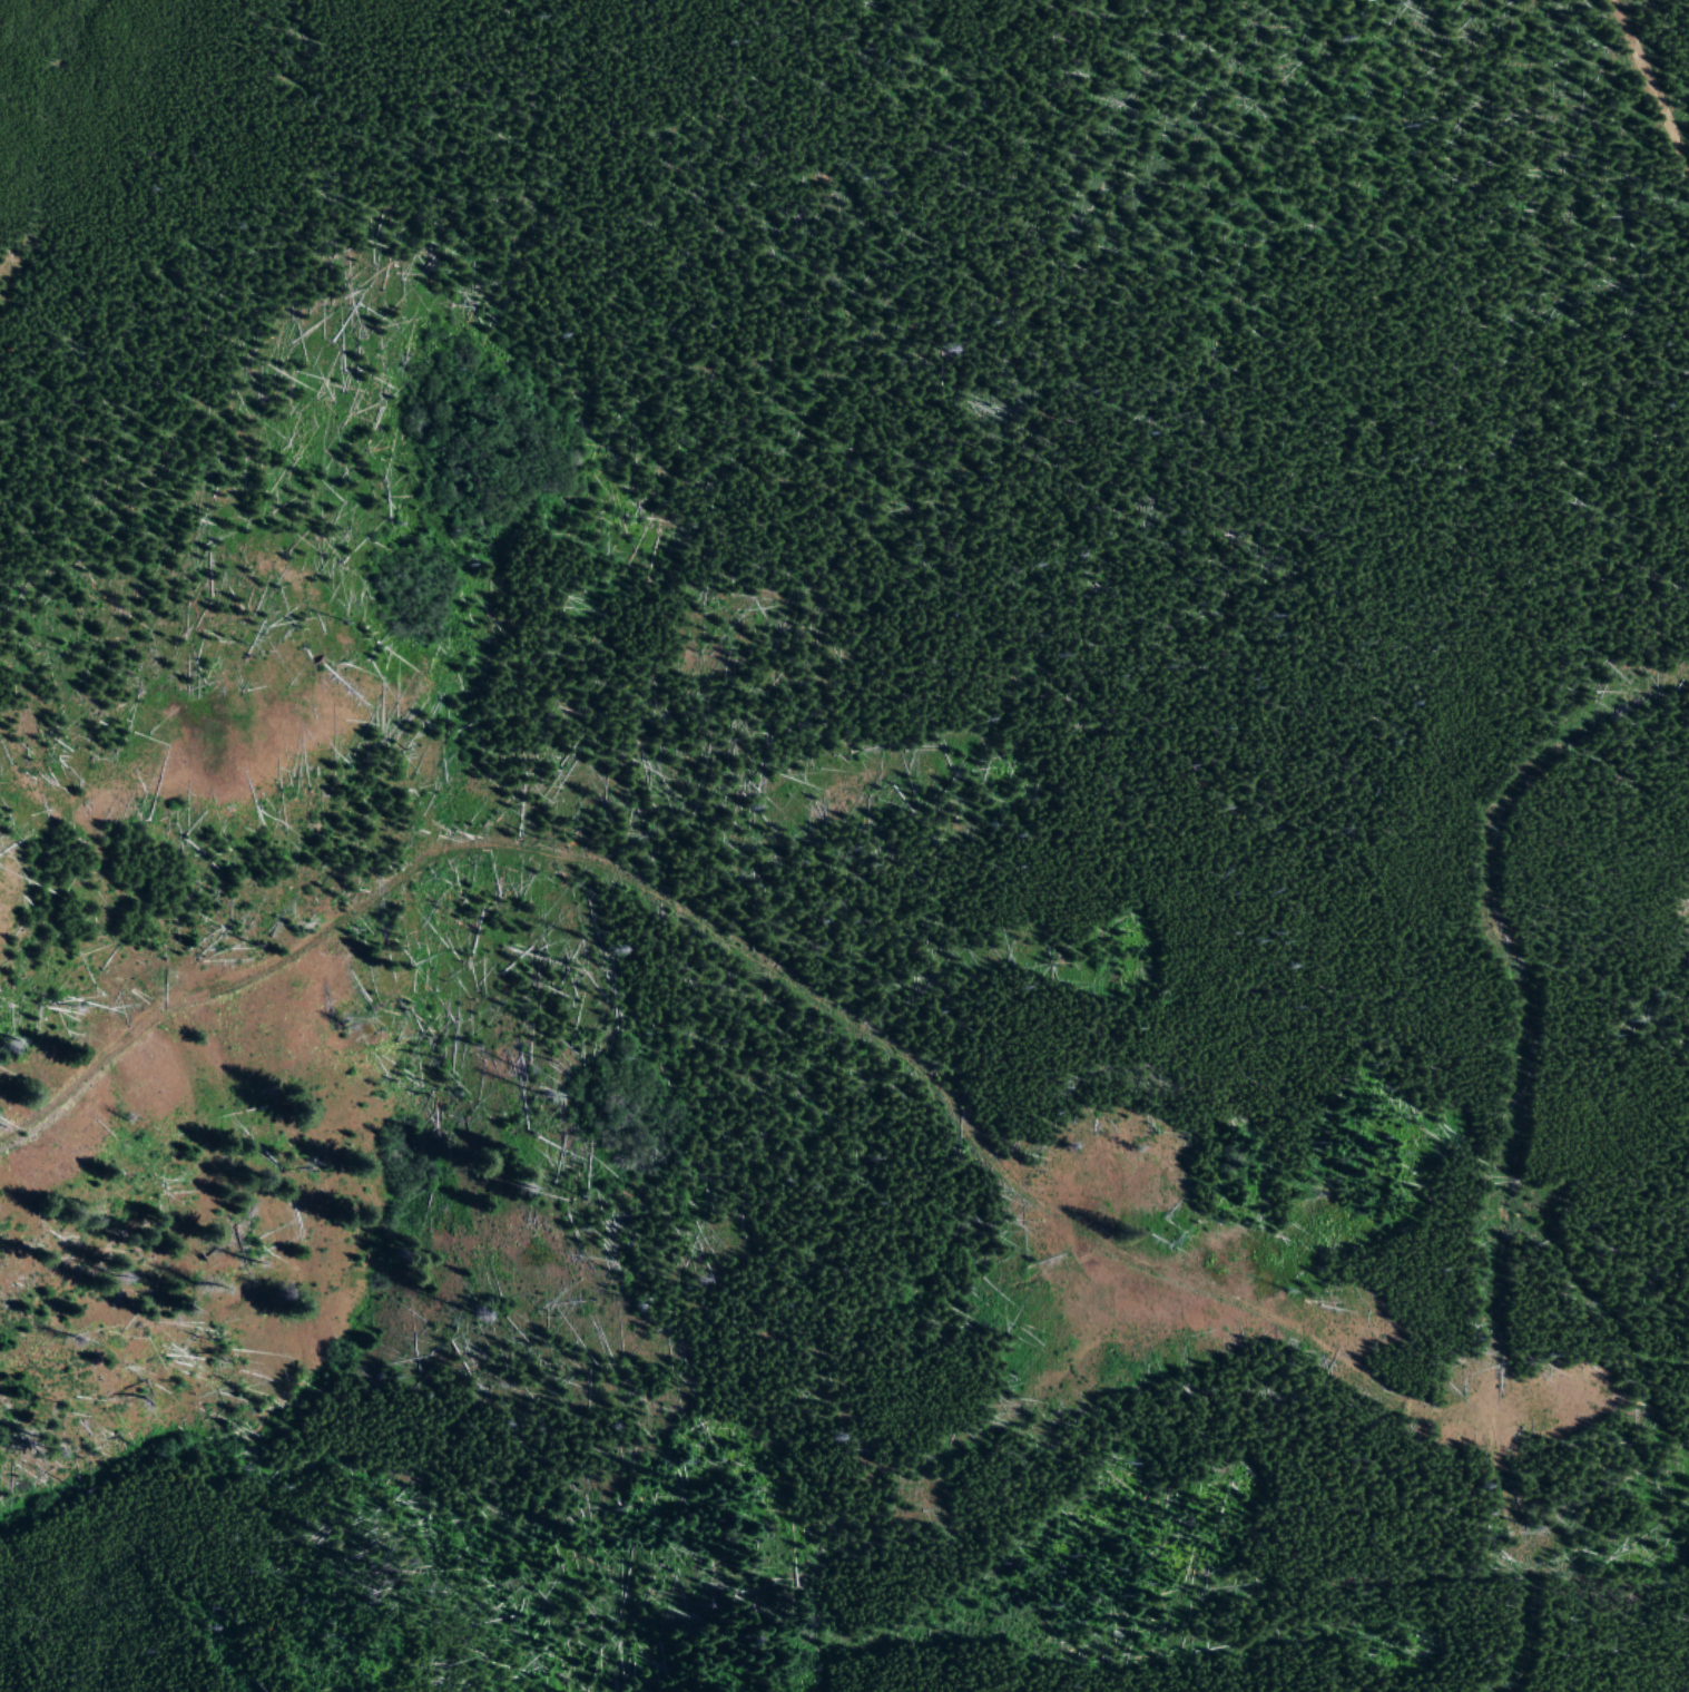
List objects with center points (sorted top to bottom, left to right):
road: (1646, 94)

